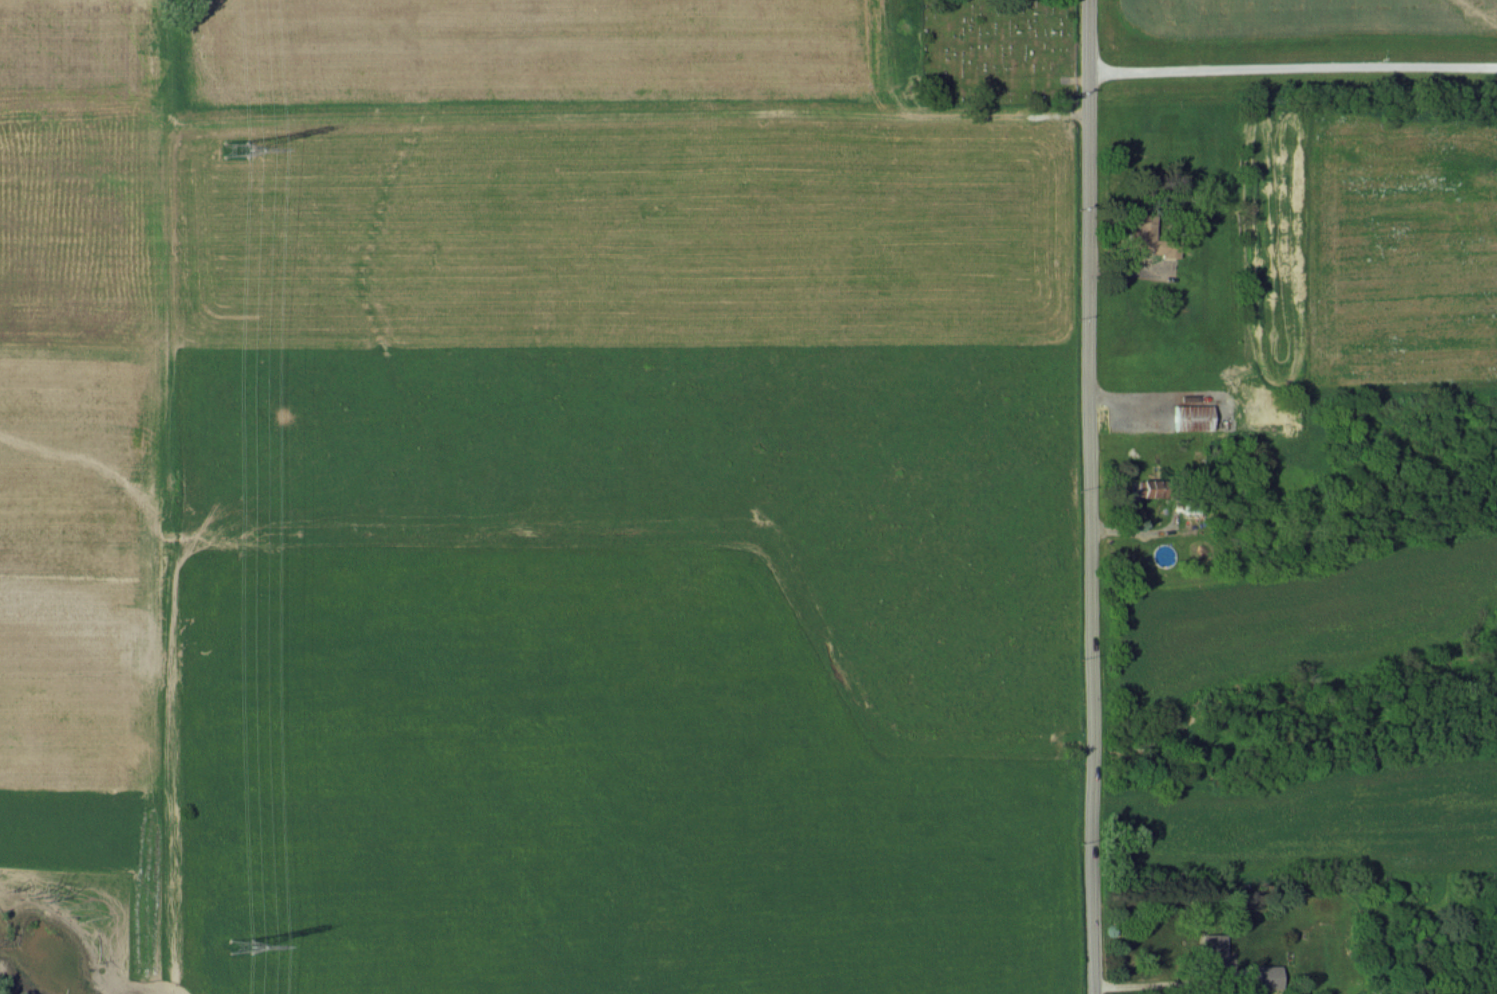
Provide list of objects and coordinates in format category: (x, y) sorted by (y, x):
road: (1293, 66)
power tower: (234, 149)
building: (1149, 235)
building: (1146, 487)
road: (1094, 497)
power tower: (239, 947)
building: (1211, 950)
building: (1262, 976)
road: (1168, 983)

